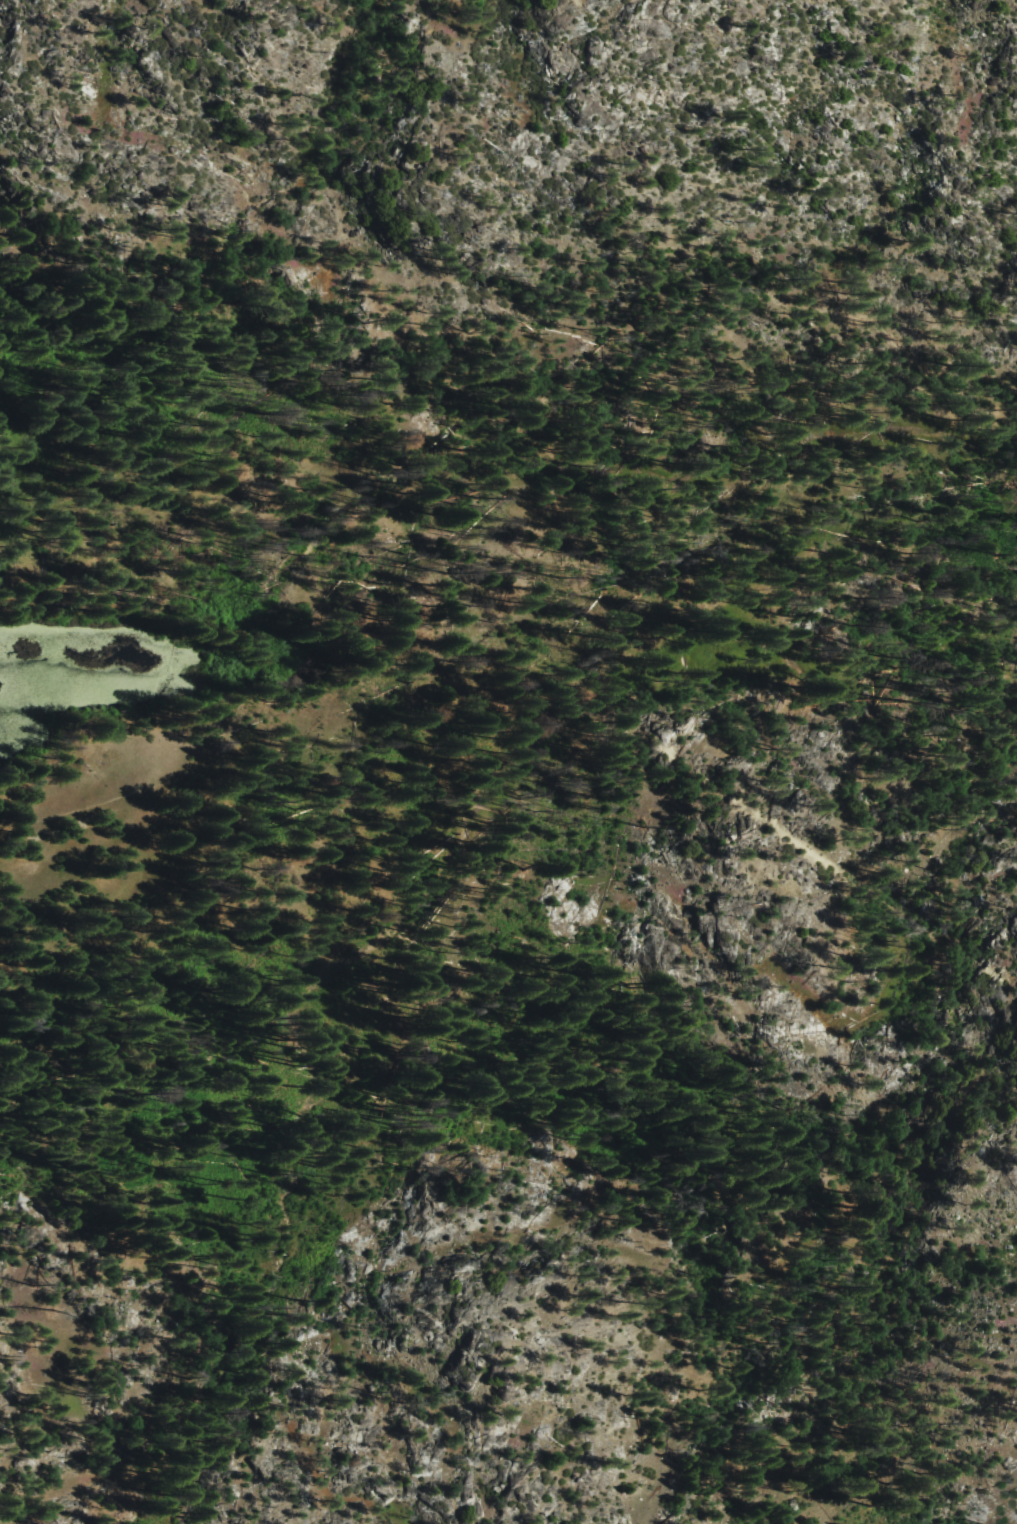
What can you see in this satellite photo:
road: (75, 808)
airstrip: (833, 866)

